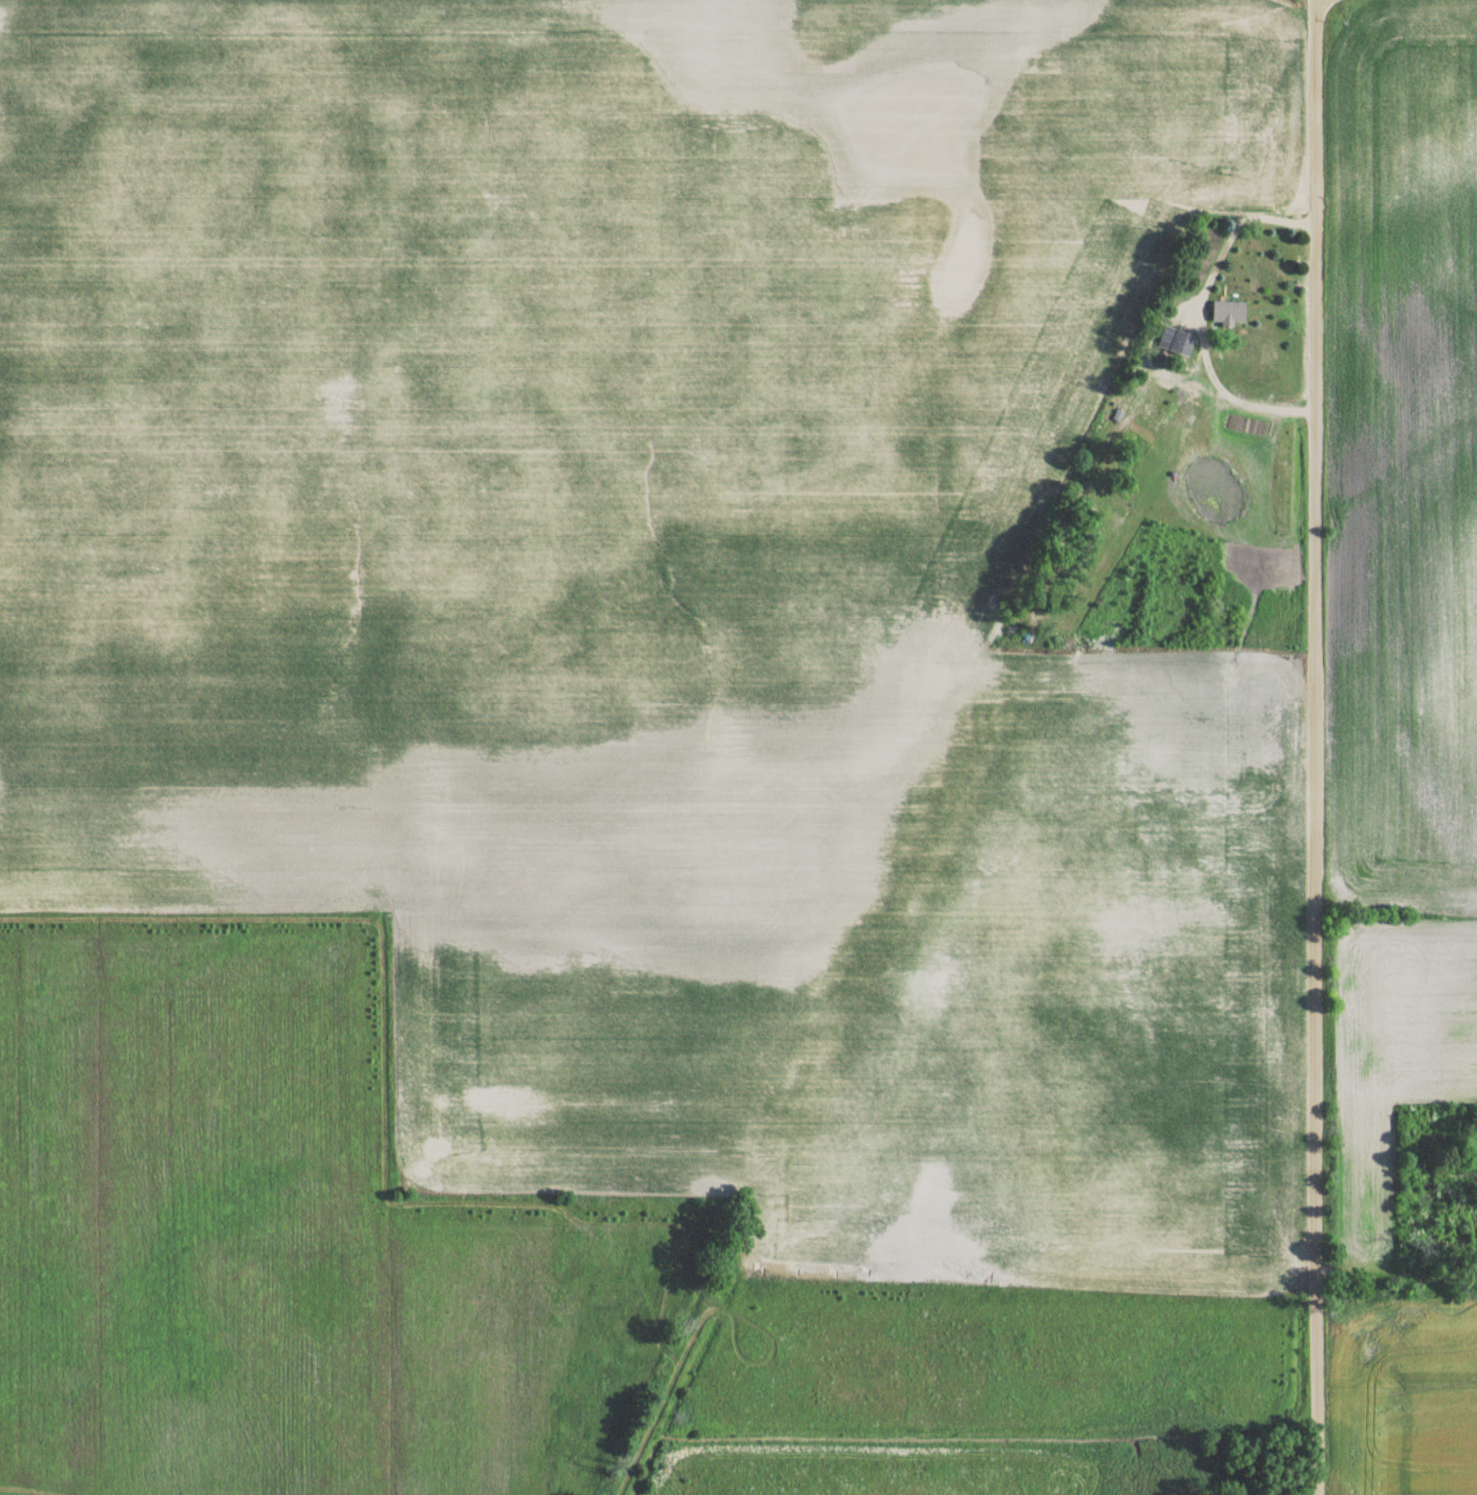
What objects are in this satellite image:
road: (1193, 311)
building: (1226, 313)
building: (1174, 343)
road: (1317, 747)

